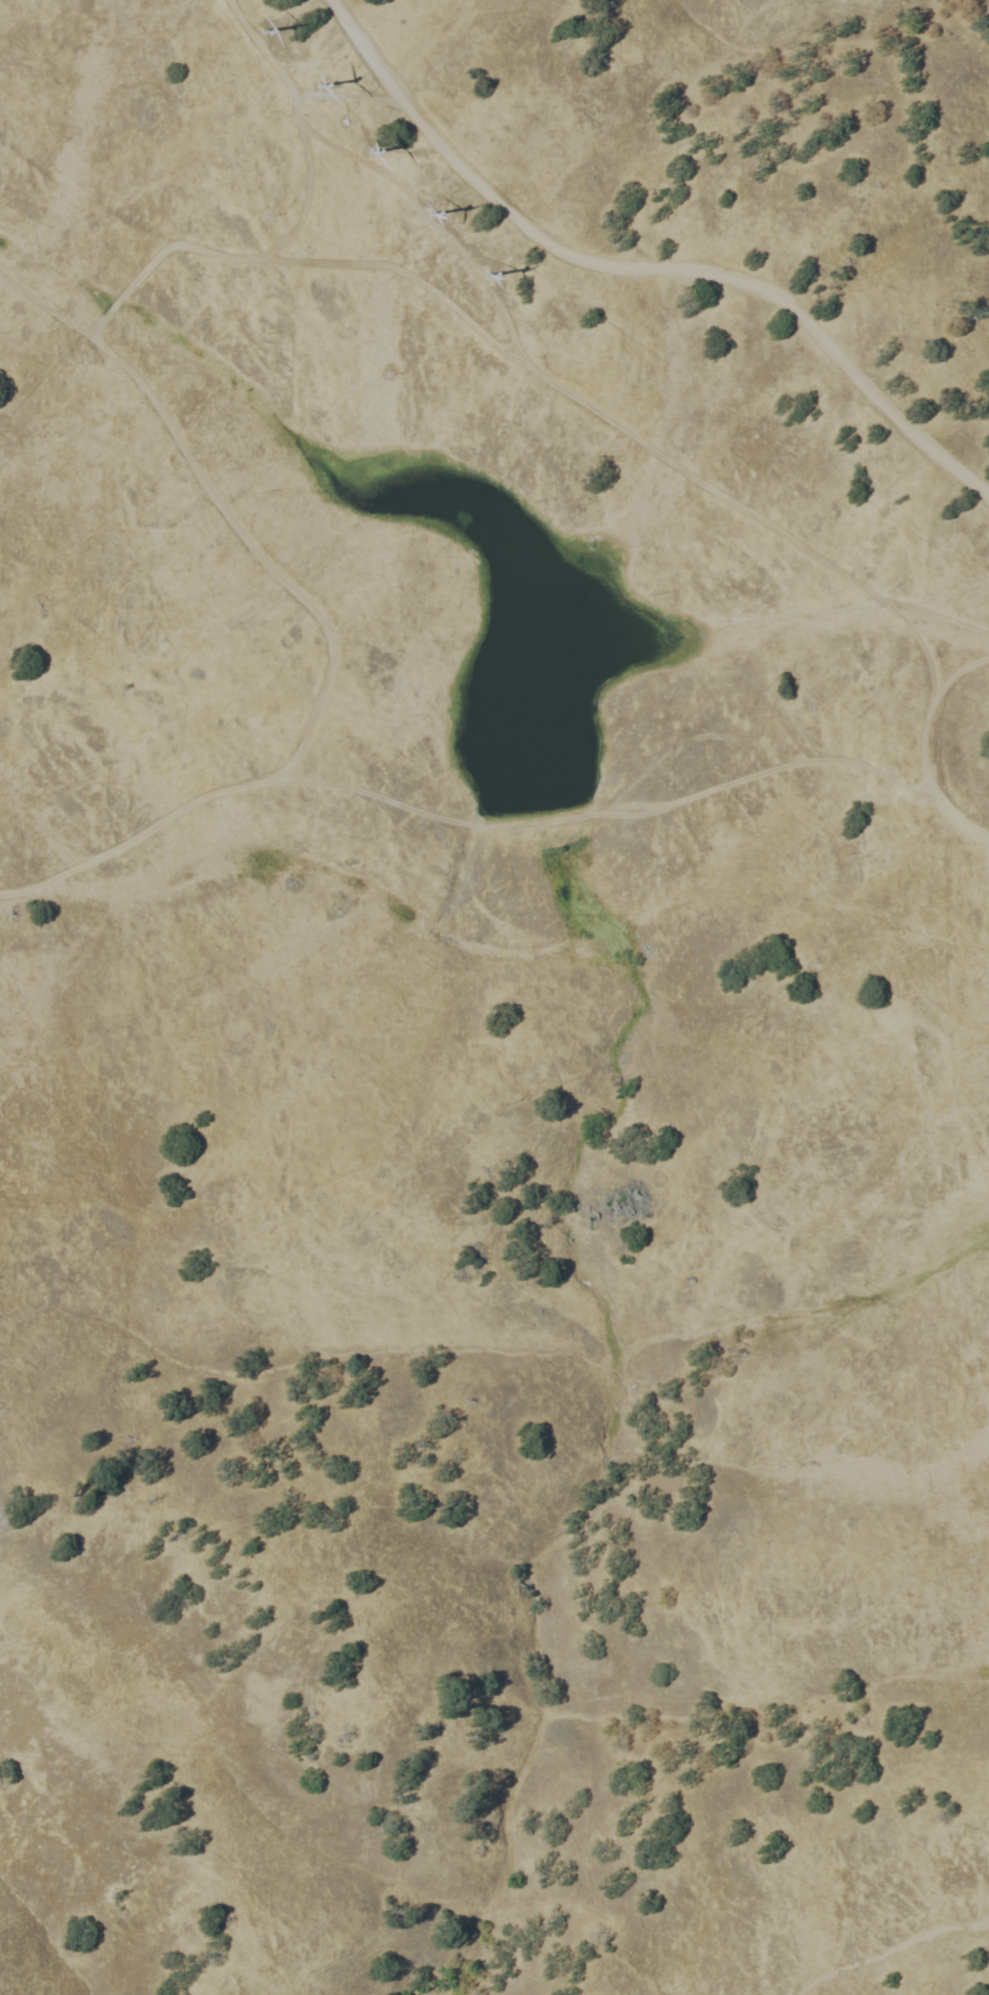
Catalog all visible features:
wind turbine: (264, 28)
wind turbine: (318, 80)
road: (321, 95)
road: (374, 99)
road: (299, 128)
wind turbine: (374, 149)
wind turbine: (431, 212)
road: (434, 224)
road: (157, 254)
road: (644, 267)
wind turbine: (488, 276)
road: (45, 306)
road: (628, 432)
road: (940, 617)
road: (325, 673)
road: (686, 742)
road: (922, 748)
road: (608, 812)

